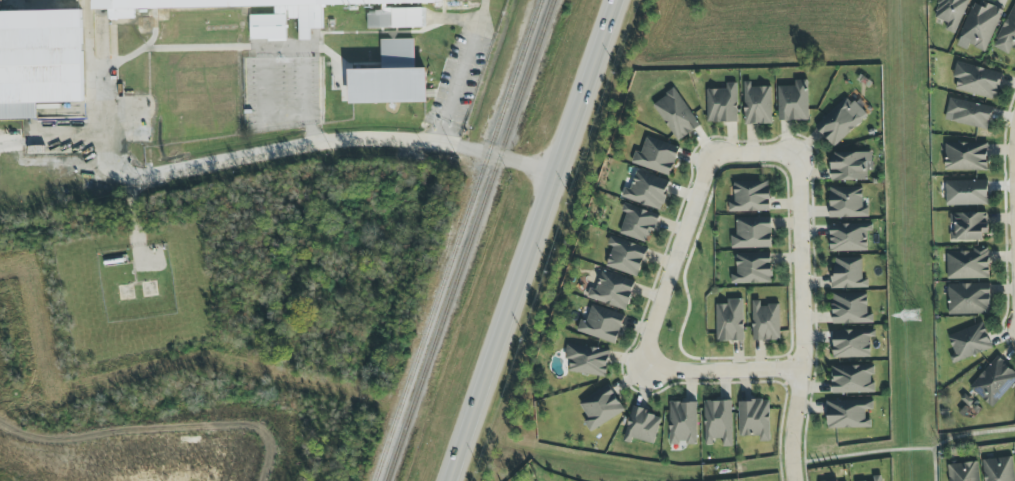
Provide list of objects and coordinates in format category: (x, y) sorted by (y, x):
building: (289, 12)
building: (950, 13)
building: (979, 27)
building: (1007, 34)
building: (39, 61)
building: (391, 77)
building: (977, 81)
building: (793, 102)
building: (722, 104)
road: (304, 105)
road: (447, 105)
building: (757, 105)
road: (263, 110)
building: (968, 114)
building: (675, 115)
building: (840, 121)
road: (1014, 149)
road: (750, 152)
building: (656, 156)
building: (965, 157)
road: (246, 160)
building: (850, 166)
building: (646, 190)
building: (966, 193)
building: (750, 197)
building: (847, 203)
building: (637, 223)
building: (968, 226)
building: (752, 233)
building: (849, 237)
railway: (456, 240)
railway: (468, 240)
road: (534, 240)
building: (625, 256)
road: (675, 262)
building: (968, 264)
building: (752, 269)
building: (848, 273)
building: (612, 290)
building: (968, 299)
building: (850, 309)
road: (802, 316)
power tower: (910, 316)
building: (729, 321)
building: (765, 322)
building: (602, 324)
building: (969, 342)
building: (852, 343)
building: (587, 360)
road: (725, 371)
building: (851, 379)
building: (994, 382)
building: (600, 408)
building: (848, 414)
building: (754, 419)
building: (718, 422)
building: (682, 423)
building: (641, 426)
road: (957, 436)
road: (862, 454)
building: (998, 469)
building: (963, 472)
building: (877, 478)

